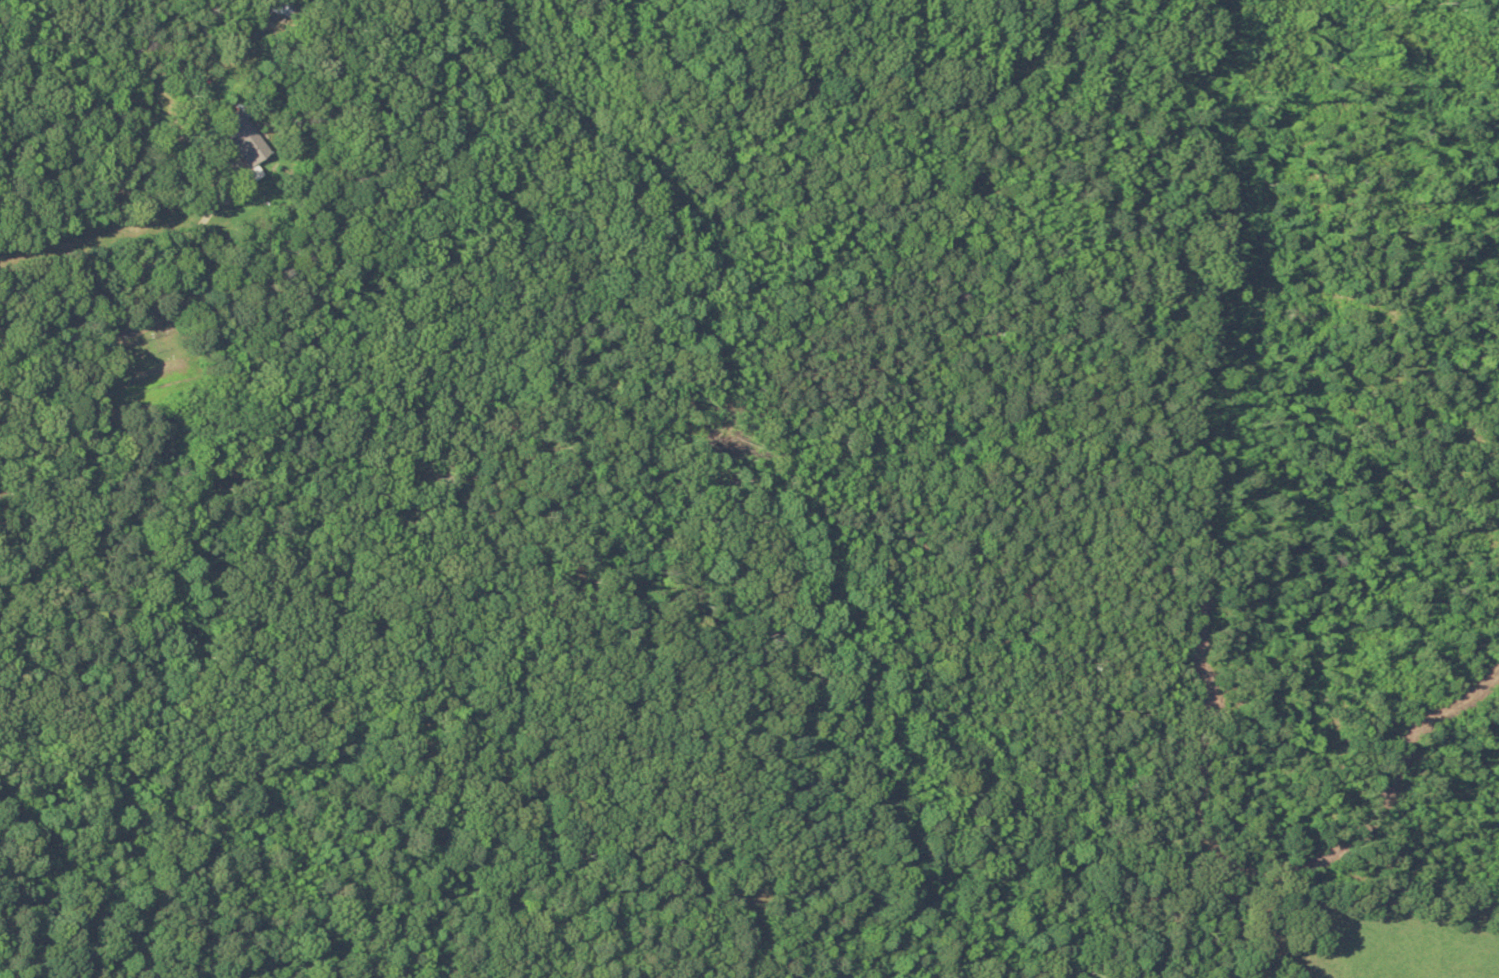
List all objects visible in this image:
building: (267, 5)
building: (228, 134)
road: (111, 280)

